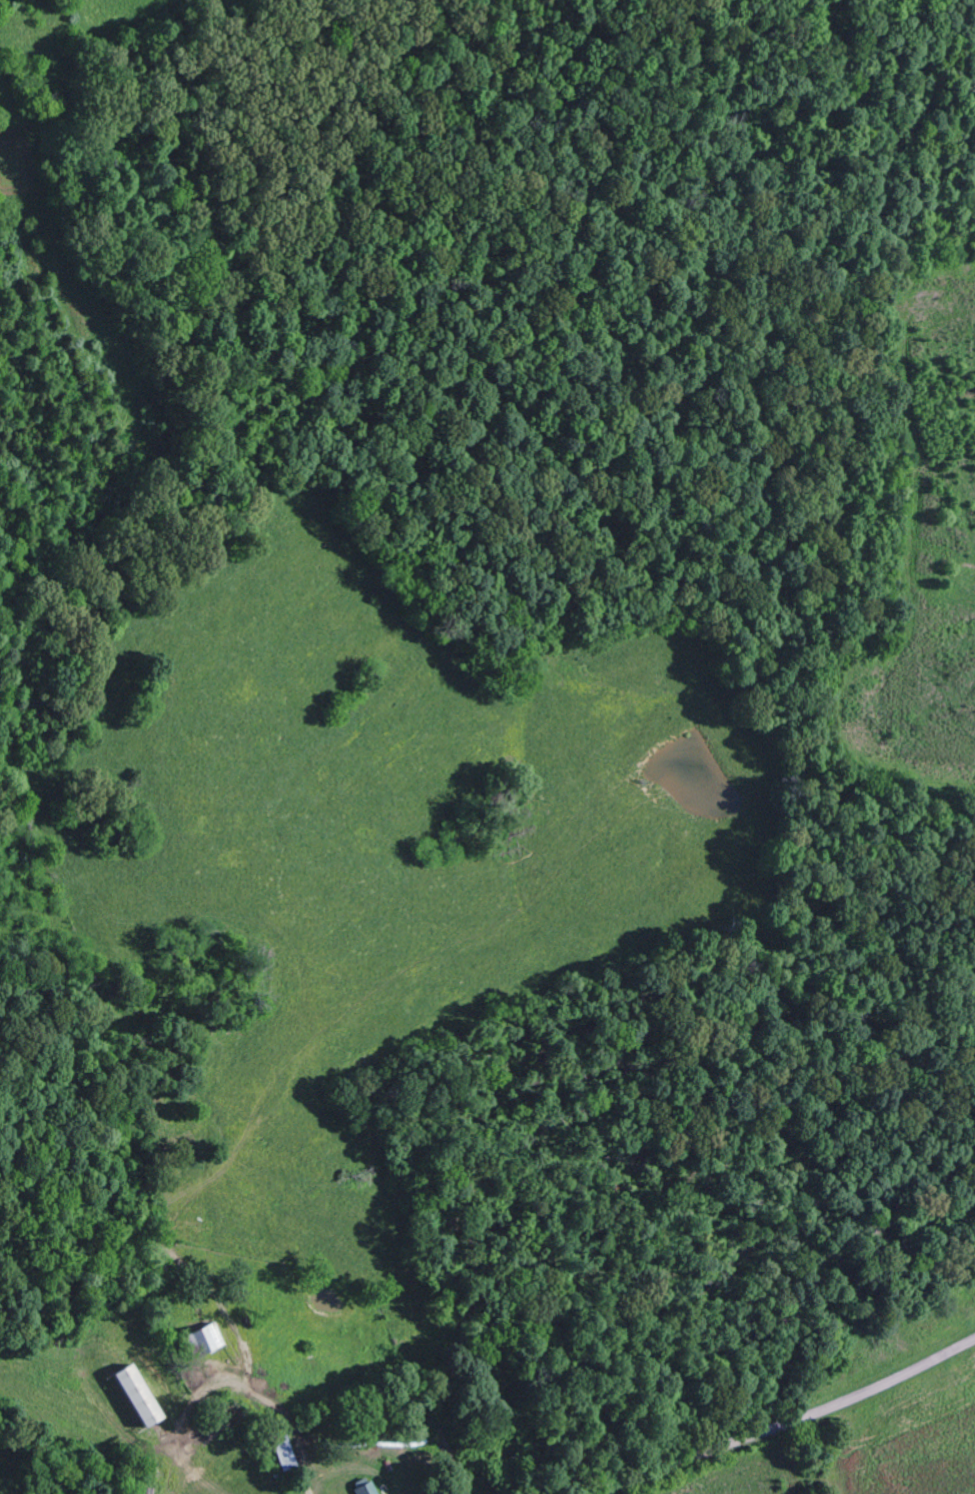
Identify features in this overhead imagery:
building: (212, 1341)
road: (785, 1424)
building: (364, 1488)

